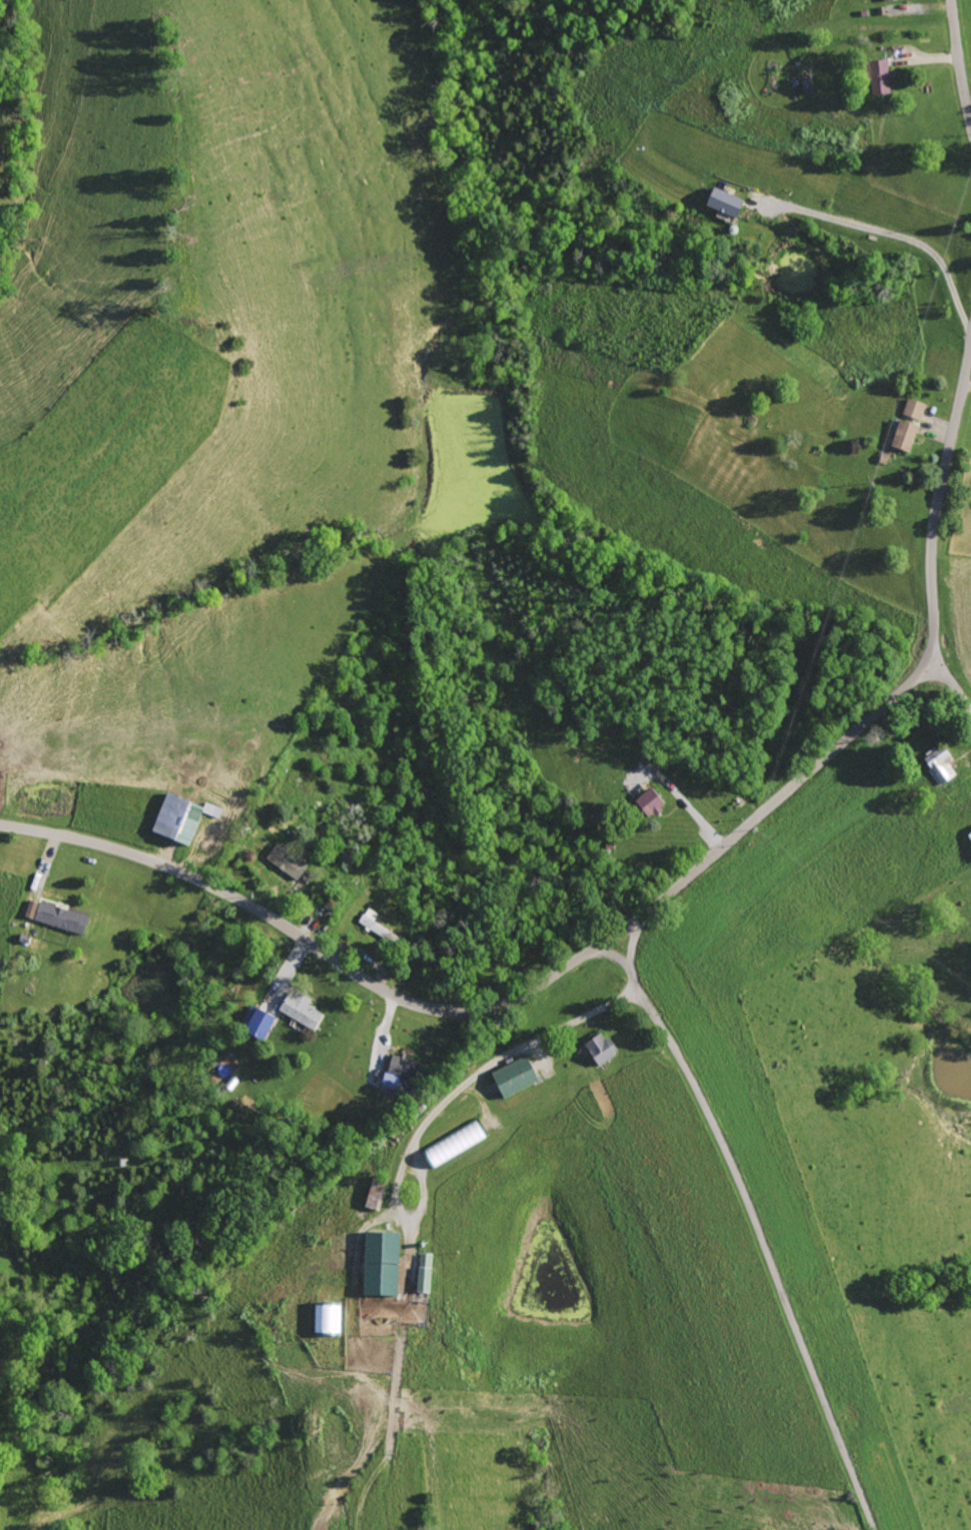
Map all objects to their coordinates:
road: (961, 59)
building: (873, 76)
building: (719, 202)
road: (904, 236)
building: (910, 410)
building: (899, 436)
road: (950, 683)
road: (887, 704)
building: (937, 765)
building: (646, 803)
building: (170, 821)
building: (282, 862)
building: (28, 909)
building: (58, 918)
road: (617, 933)
road: (320, 948)
building: (297, 1010)
building: (254, 1024)
building: (595, 1048)
building: (398, 1066)
building: (509, 1076)
building: (385, 1080)
building: (450, 1145)
building: (371, 1195)
road: (764, 1247)
building: (375, 1263)
building: (421, 1272)
building: (325, 1318)

